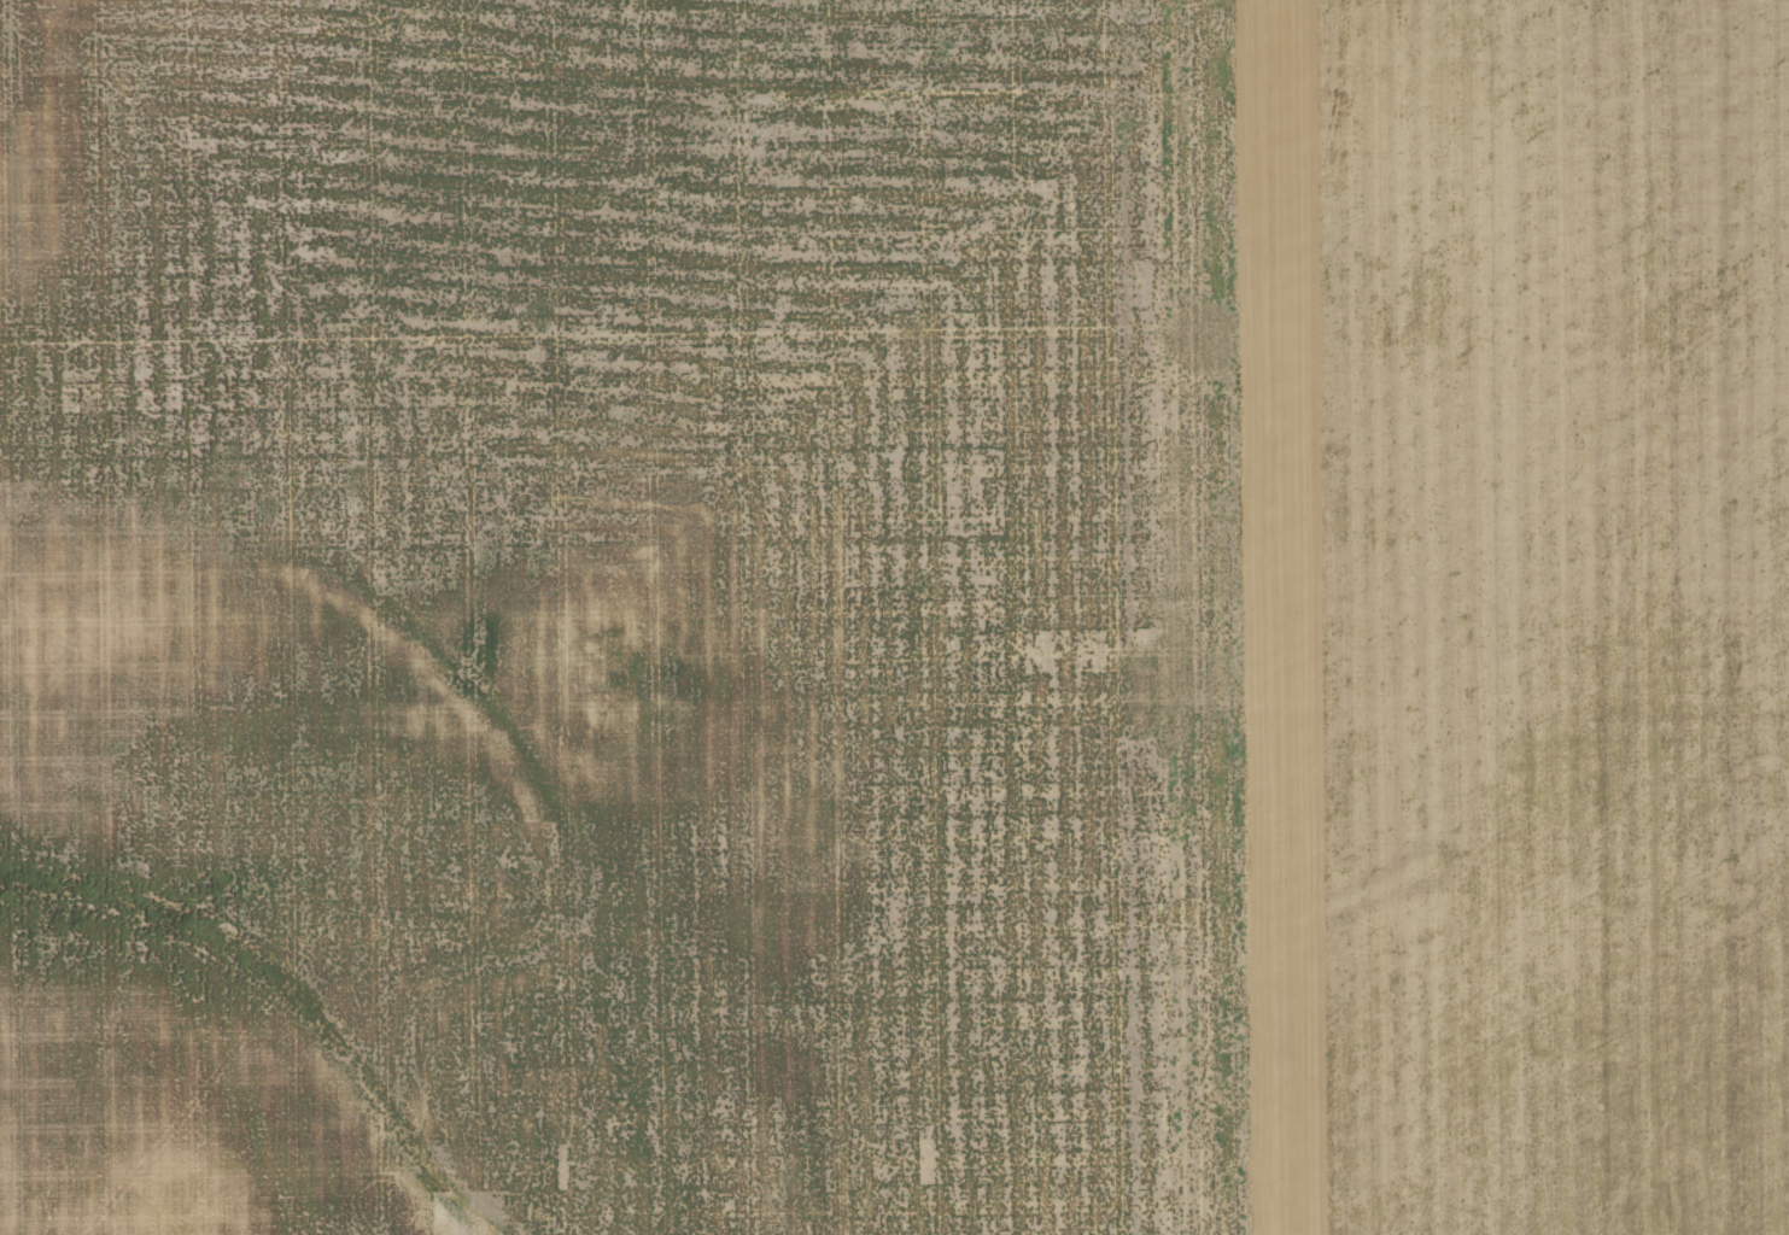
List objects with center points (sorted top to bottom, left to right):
road: (894, 680)

